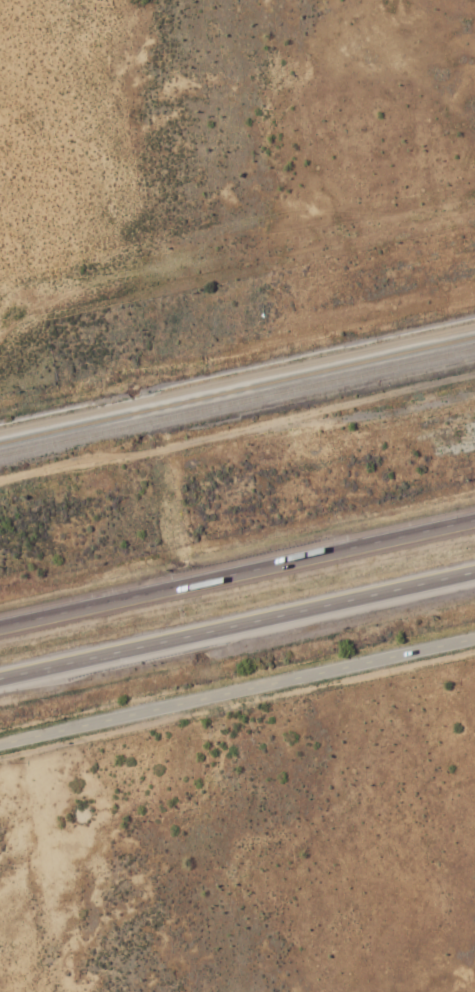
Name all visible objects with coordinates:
railway: (237, 385)
railway: (237, 400)
road: (237, 574)
road: (237, 628)
road: (237, 694)

